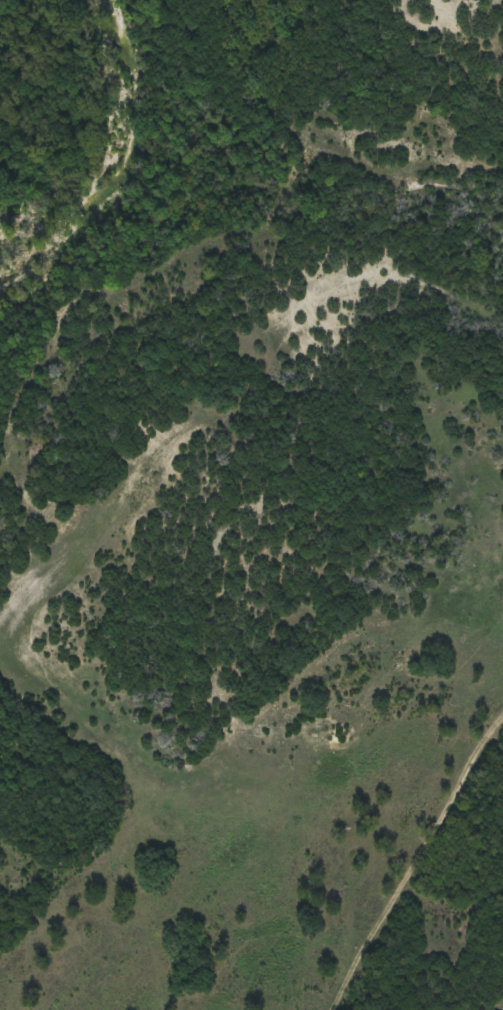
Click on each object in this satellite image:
road: (414, 862)

